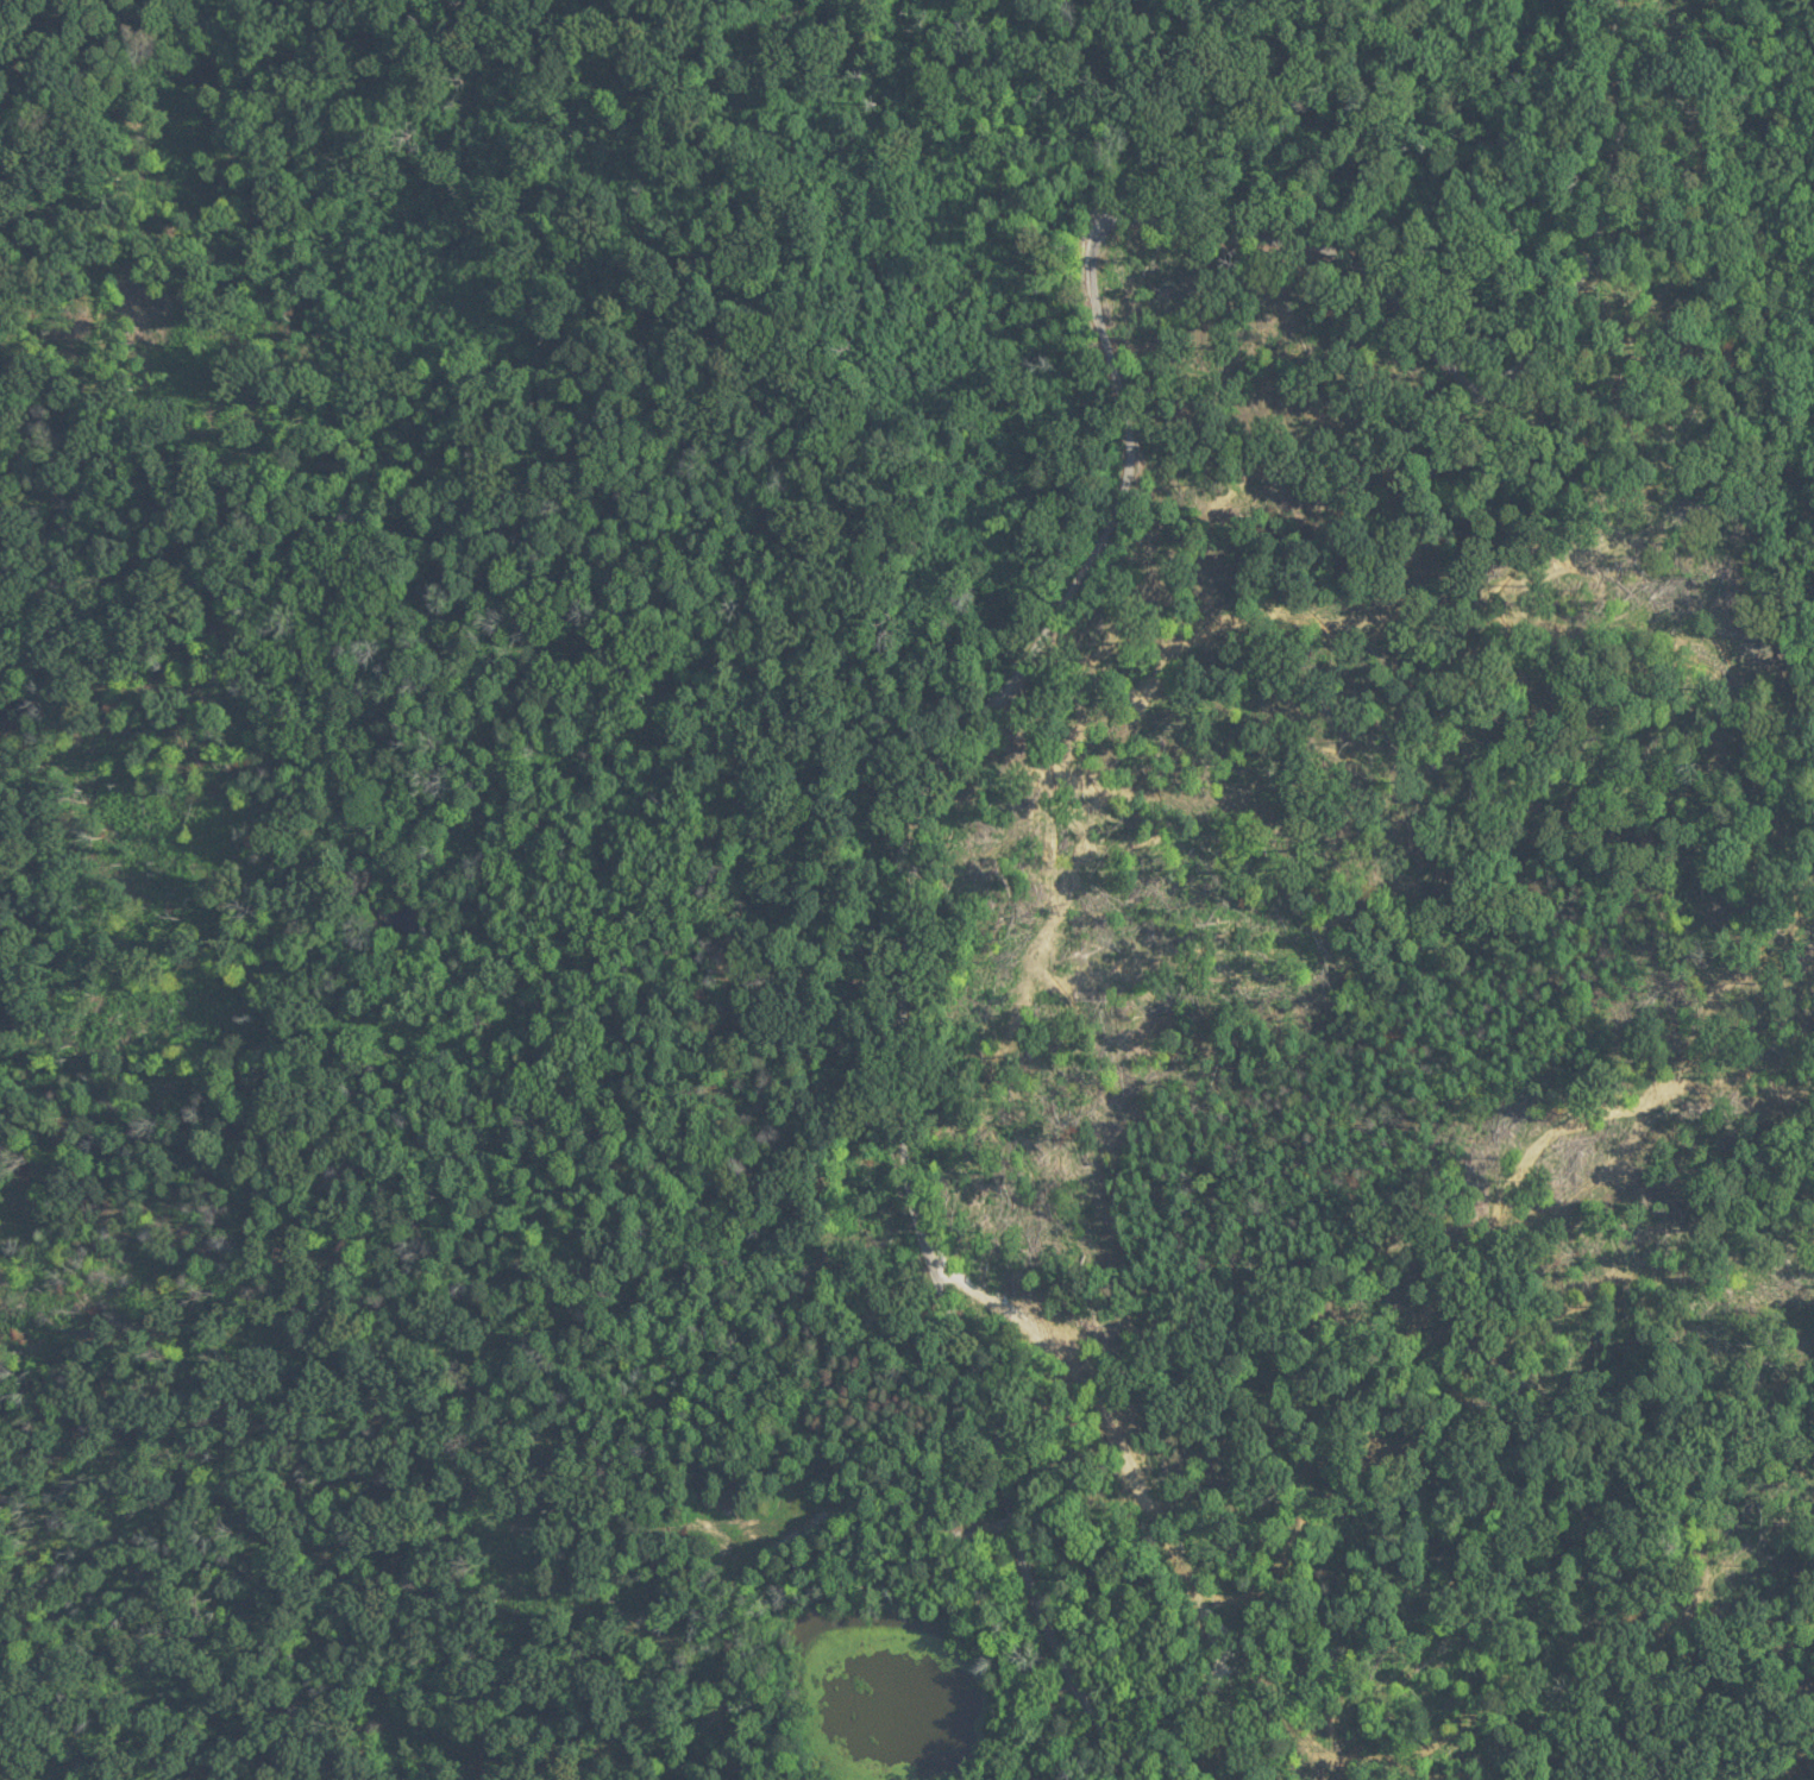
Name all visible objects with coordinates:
road: (925, 654)

